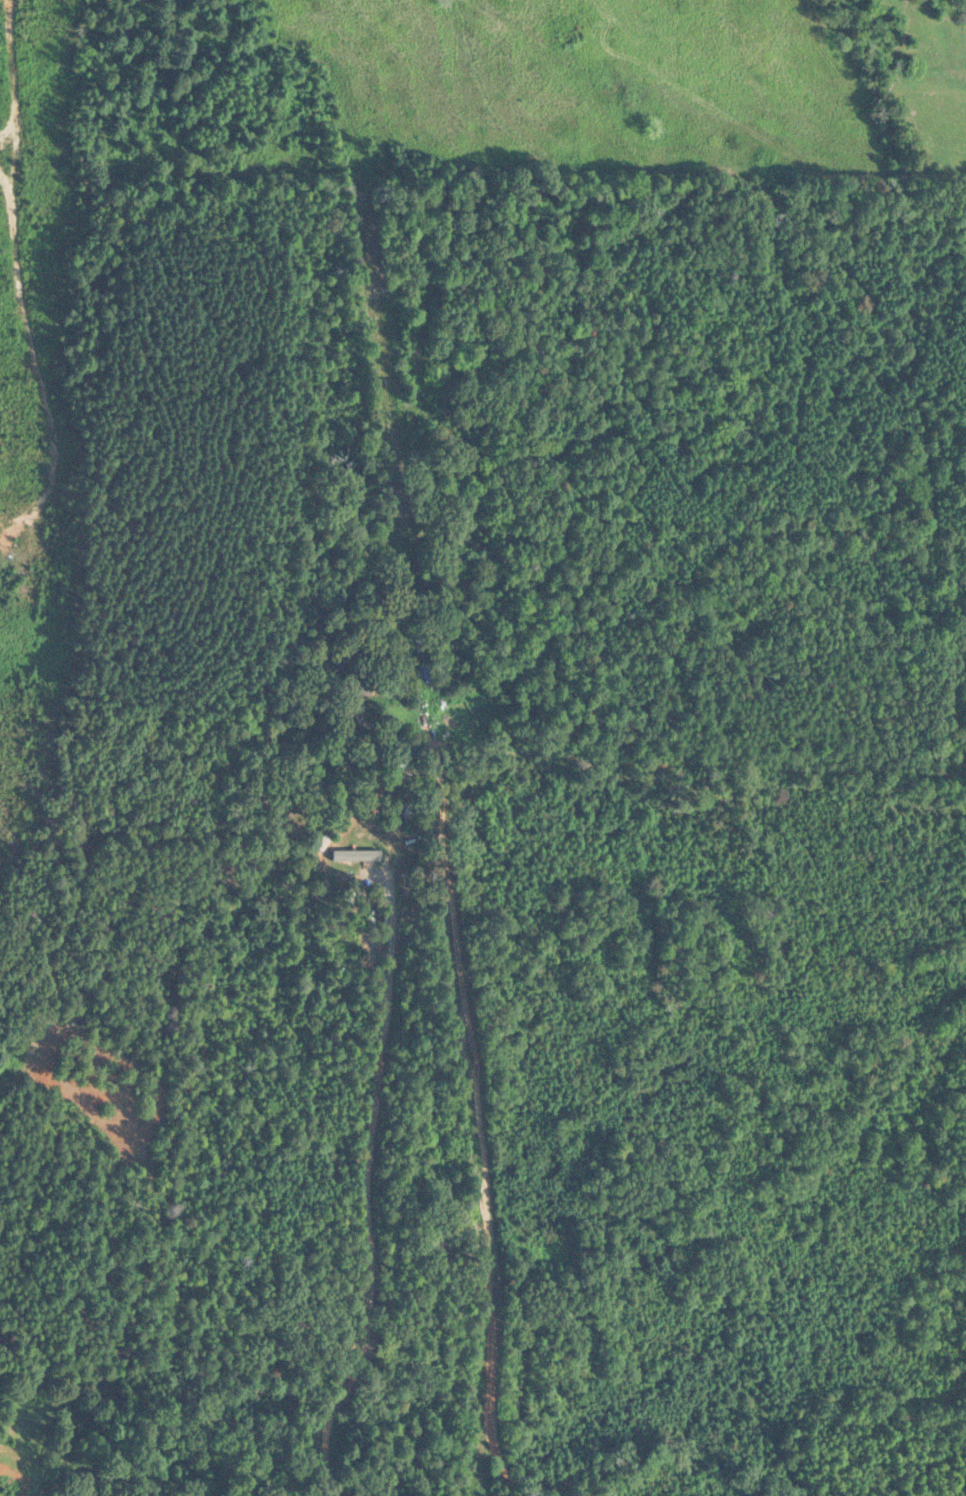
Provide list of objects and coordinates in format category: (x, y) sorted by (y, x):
building: (359, 855)
road: (368, 1187)

